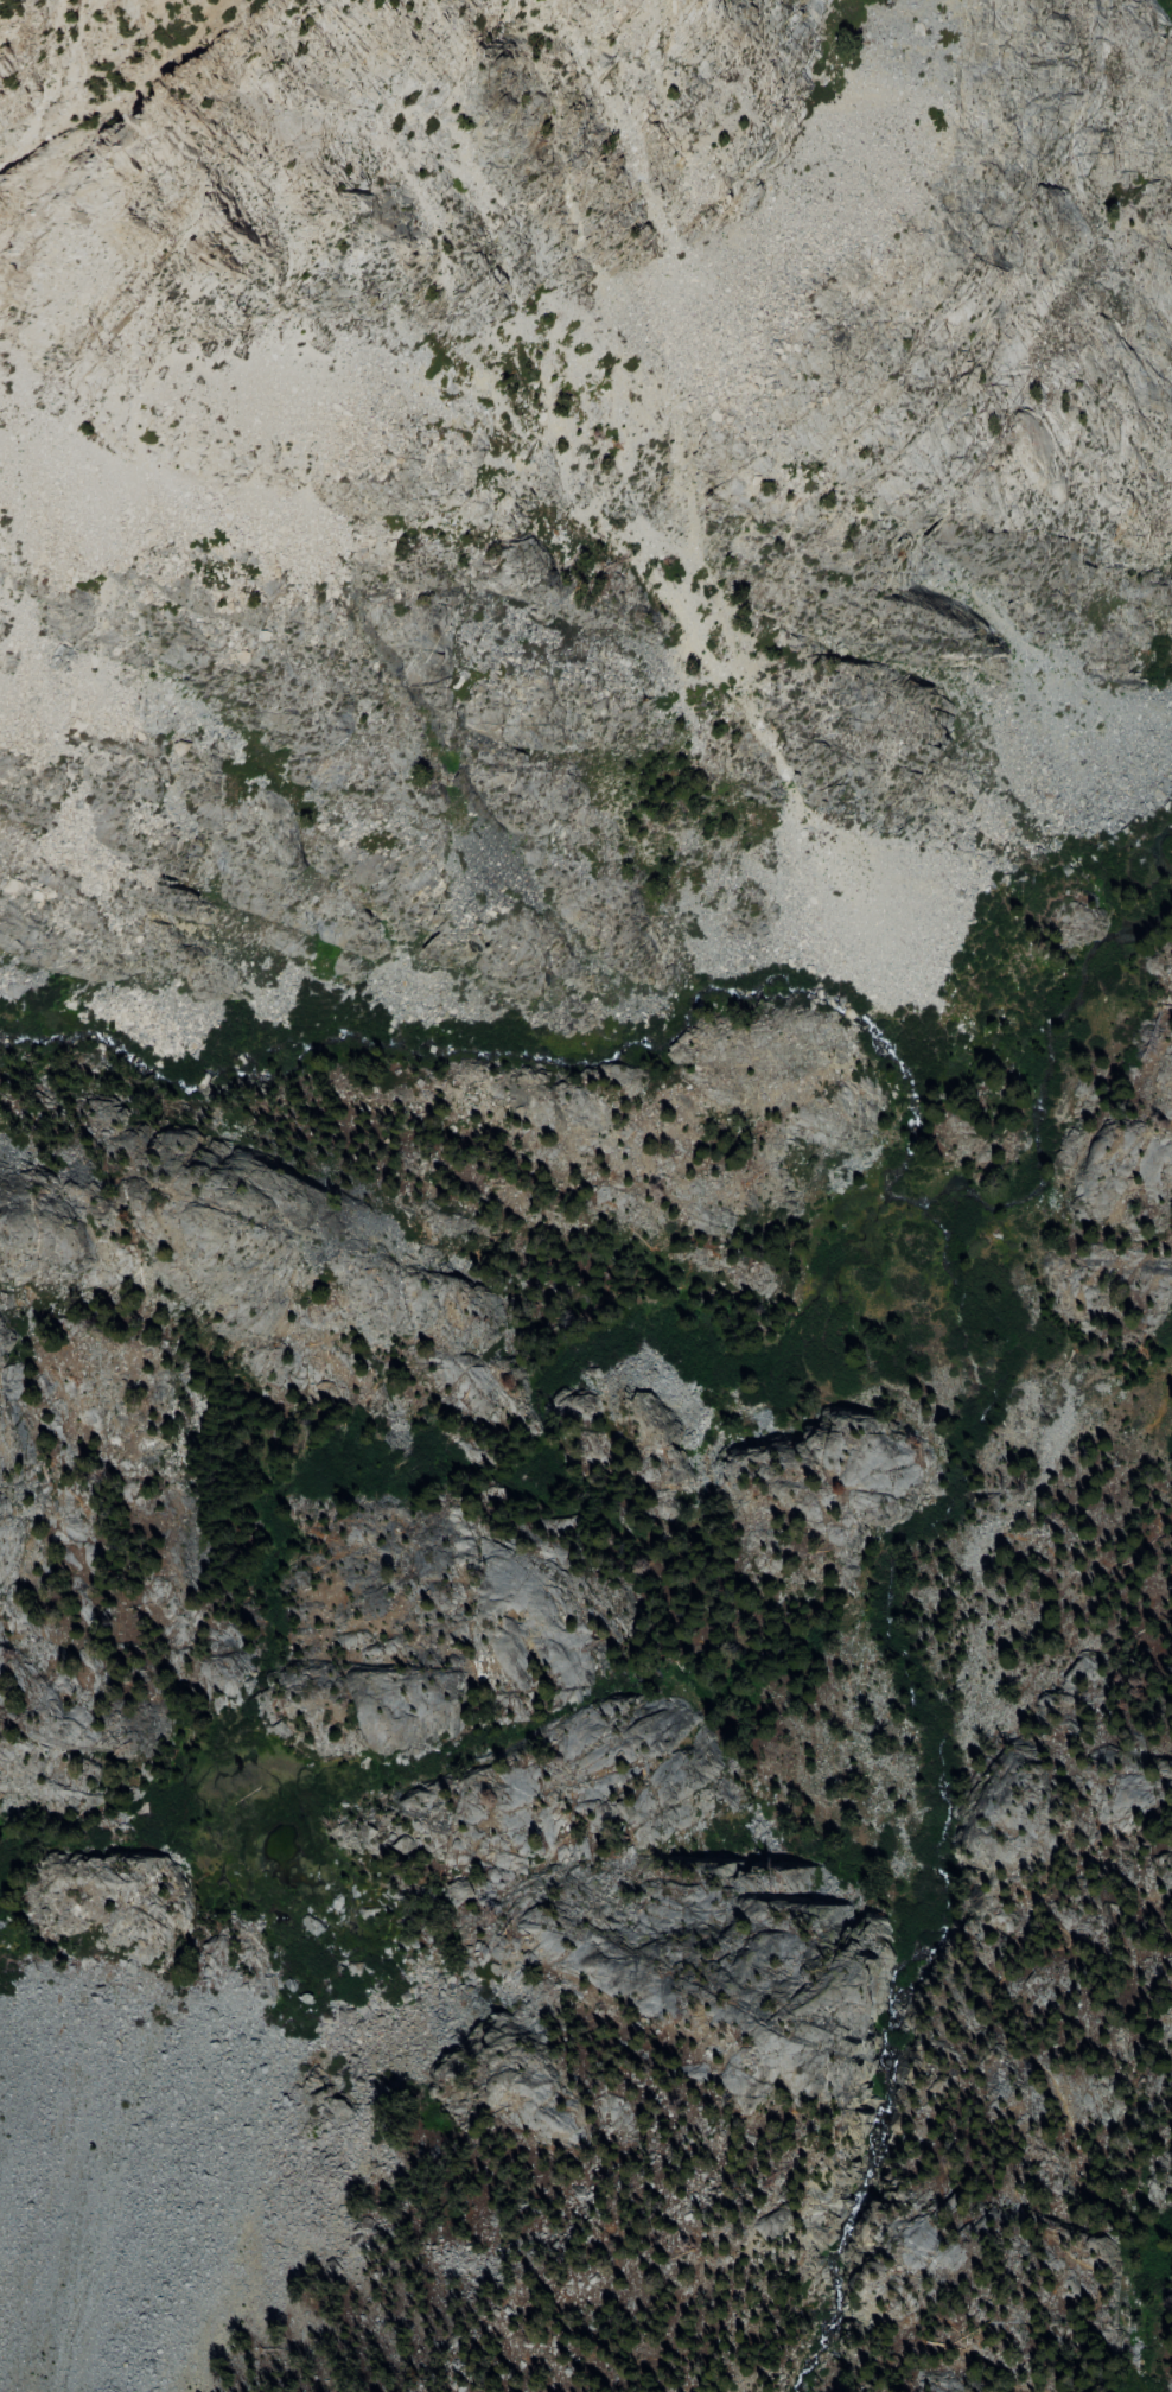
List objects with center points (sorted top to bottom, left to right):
road: (1078, 2186)

